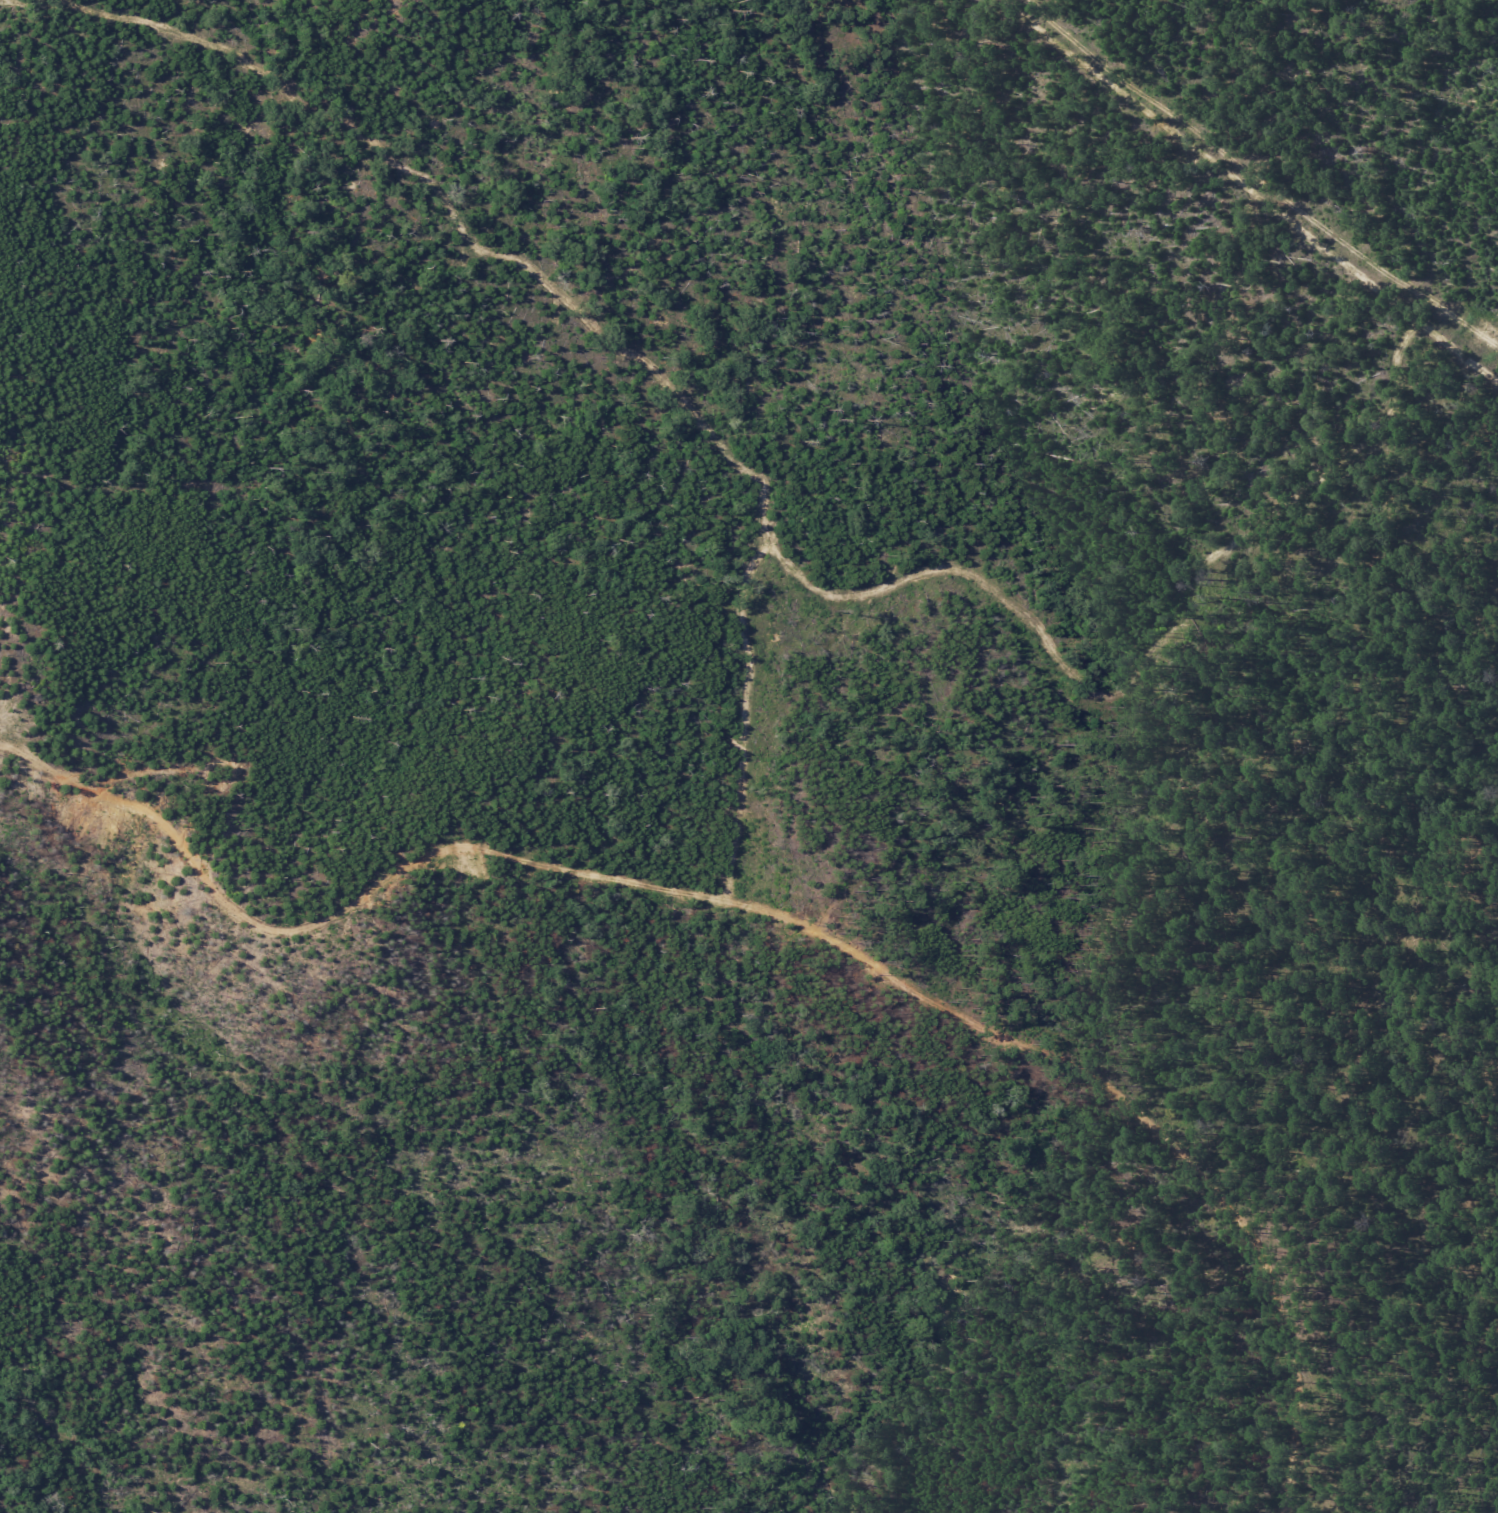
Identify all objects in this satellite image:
park: (726, 780)

